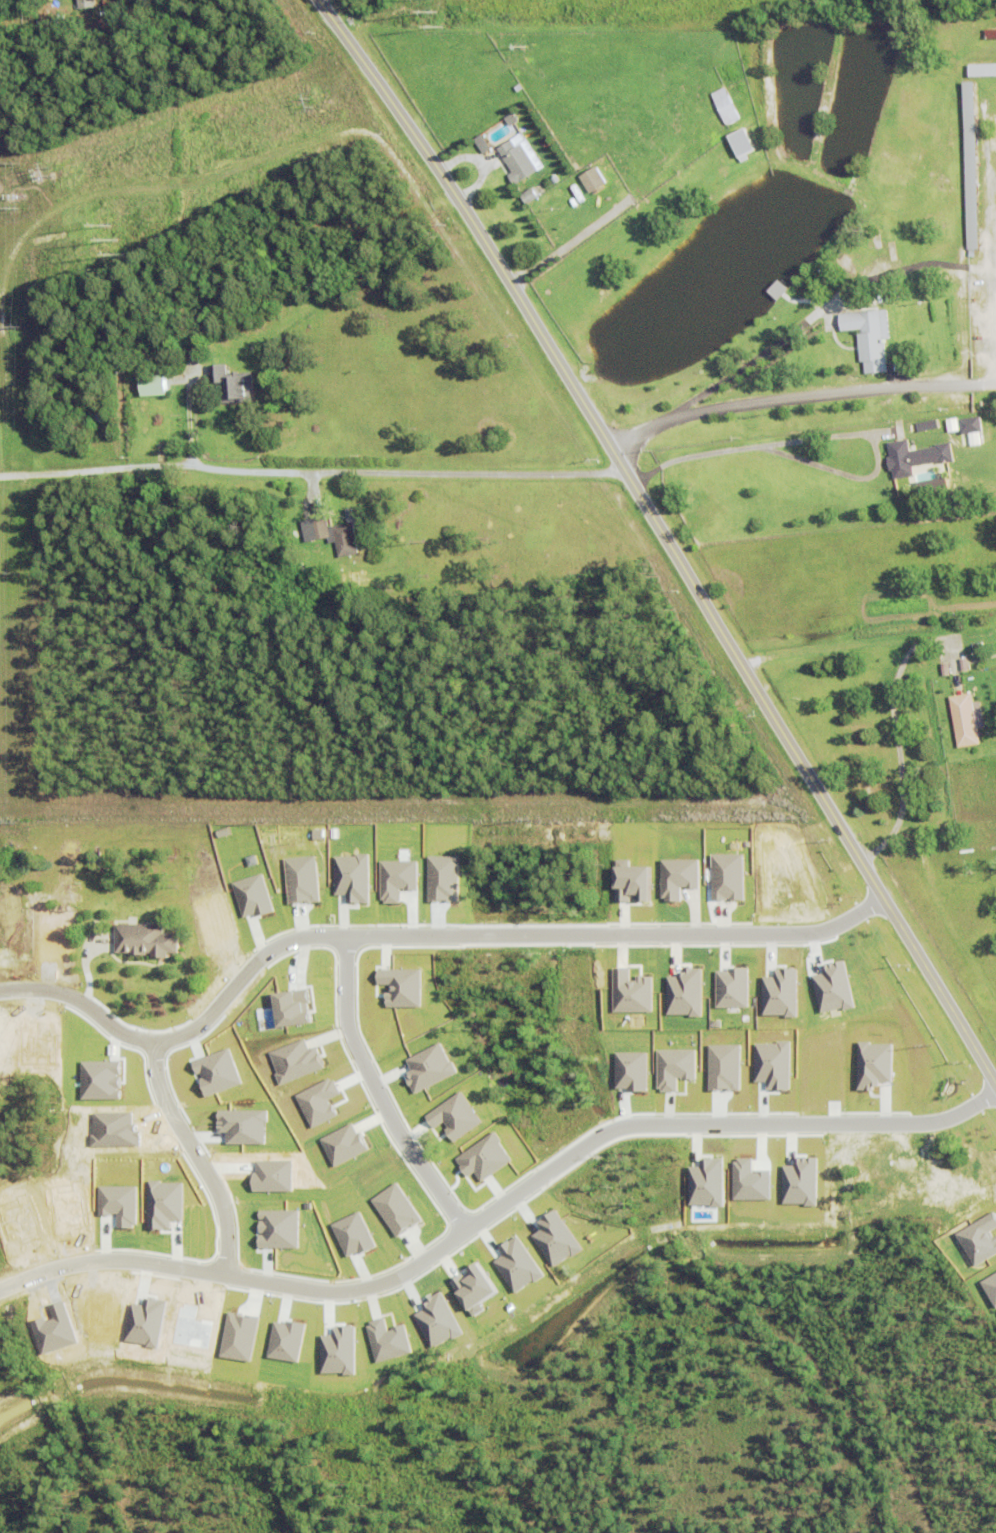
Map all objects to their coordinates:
building: (87, 4)
power tower: (436, 14)
building: (60, 18)
building: (990, 34)
building: (981, 70)
building: (724, 107)
building: (511, 120)
building: (741, 144)
building: (482, 145)
building: (519, 159)
building: (969, 164)
building: (590, 179)
building: (600, 188)
building: (528, 197)
power tower: (116, 238)
road: (563, 248)
building: (857, 306)
building: (868, 341)
road: (746, 366)
building: (153, 387)
building: (232, 387)
road: (807, 403)
building: (98, 414)
building: (969, 426)
building: (927, 427)
building: (951, 427)
building: (883, 435)
road: (827, 441)
building: (66, 451)
building: (915, 459)
road: (313, 470)
building: (315, 531)
road: (664, 536)
building: (345, 538)
road: (901, 670)
building: (964, 722)
building: (92, 860)
building: (677, 877)
building: (250, 896)
building: (145, 937)
road: (420, 938)
building: (730, 988)
building: (631, 992)
building: (778, 993)
building: (871, 1065)
building: (673, 1068)
road: (379, 1094)
road: (198, 1158)
road: (497, 1210)
building: (979, 1239)
building: (990, 1287)

